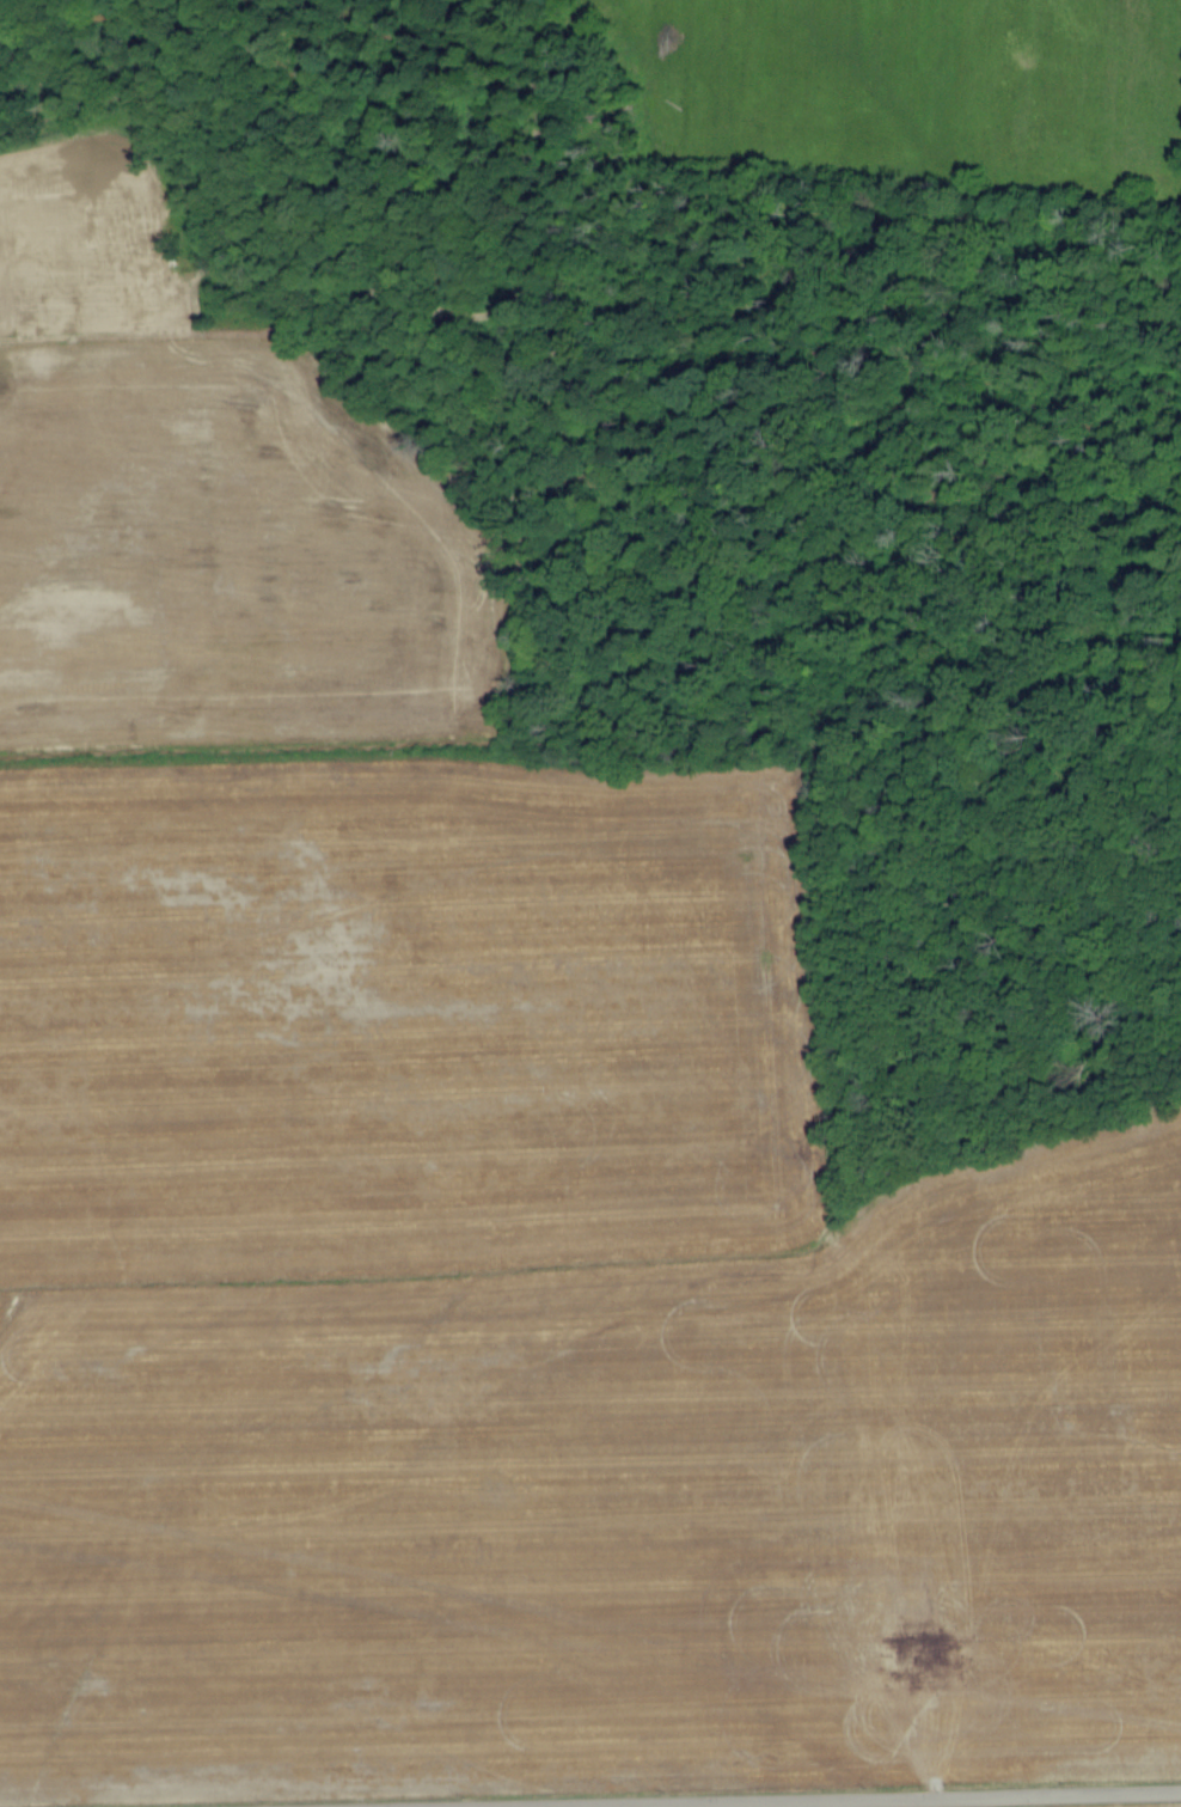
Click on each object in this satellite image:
road: (1014, 1801)

